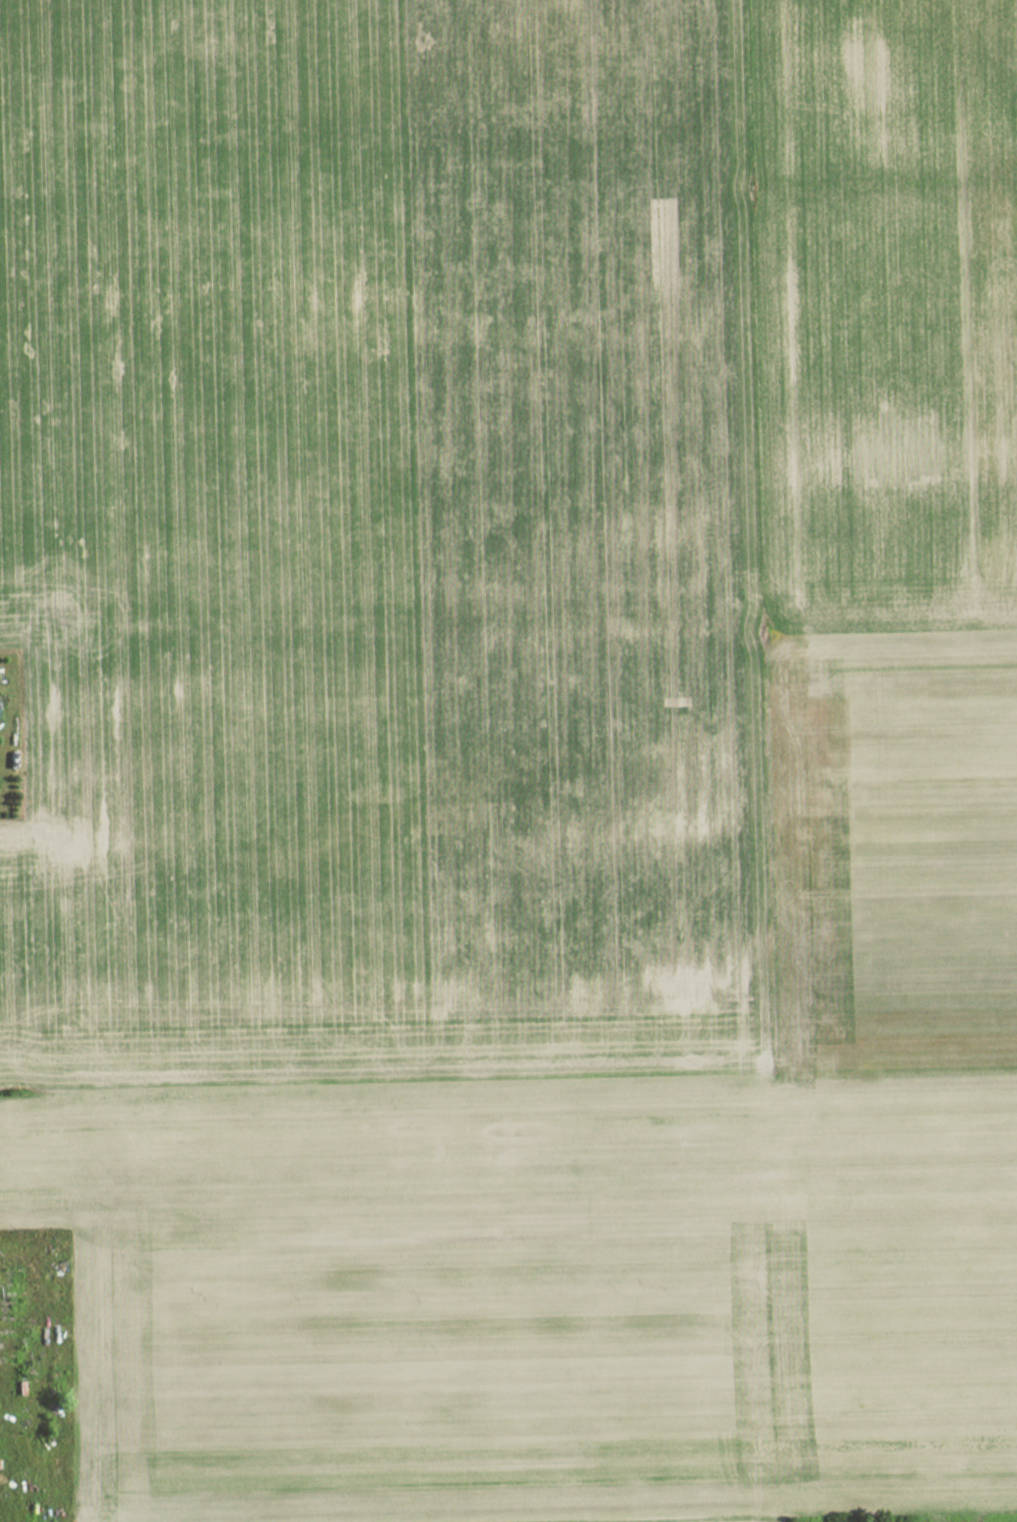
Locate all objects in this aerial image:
crop: (464, 507)
crop: (611, 1201)

